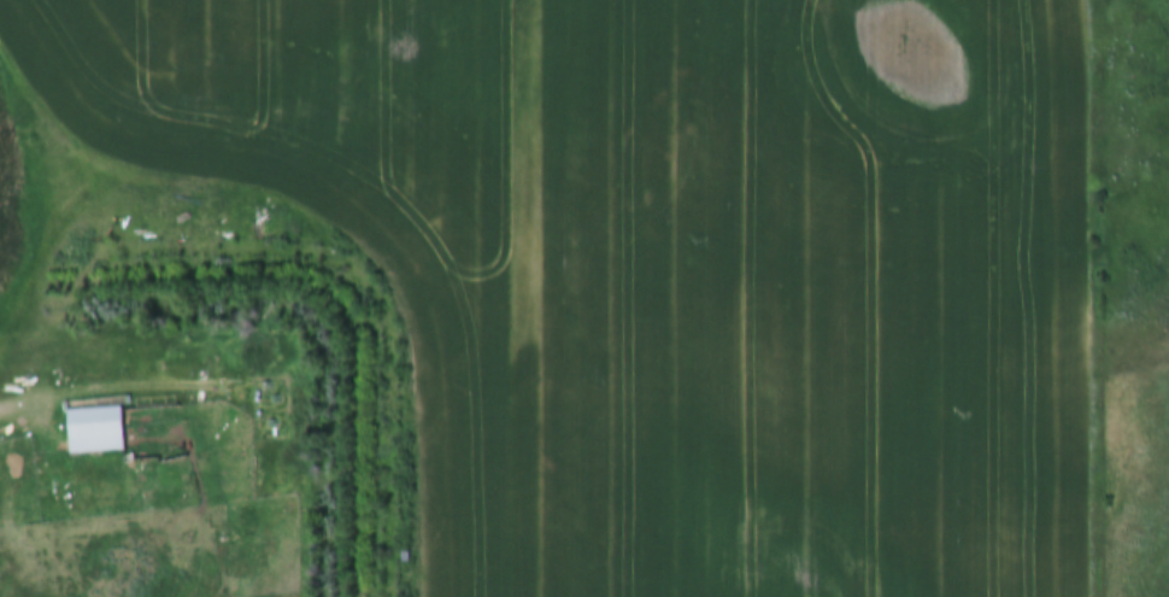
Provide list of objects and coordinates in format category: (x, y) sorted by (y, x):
road: (53, 394)
building: (94, 429)

